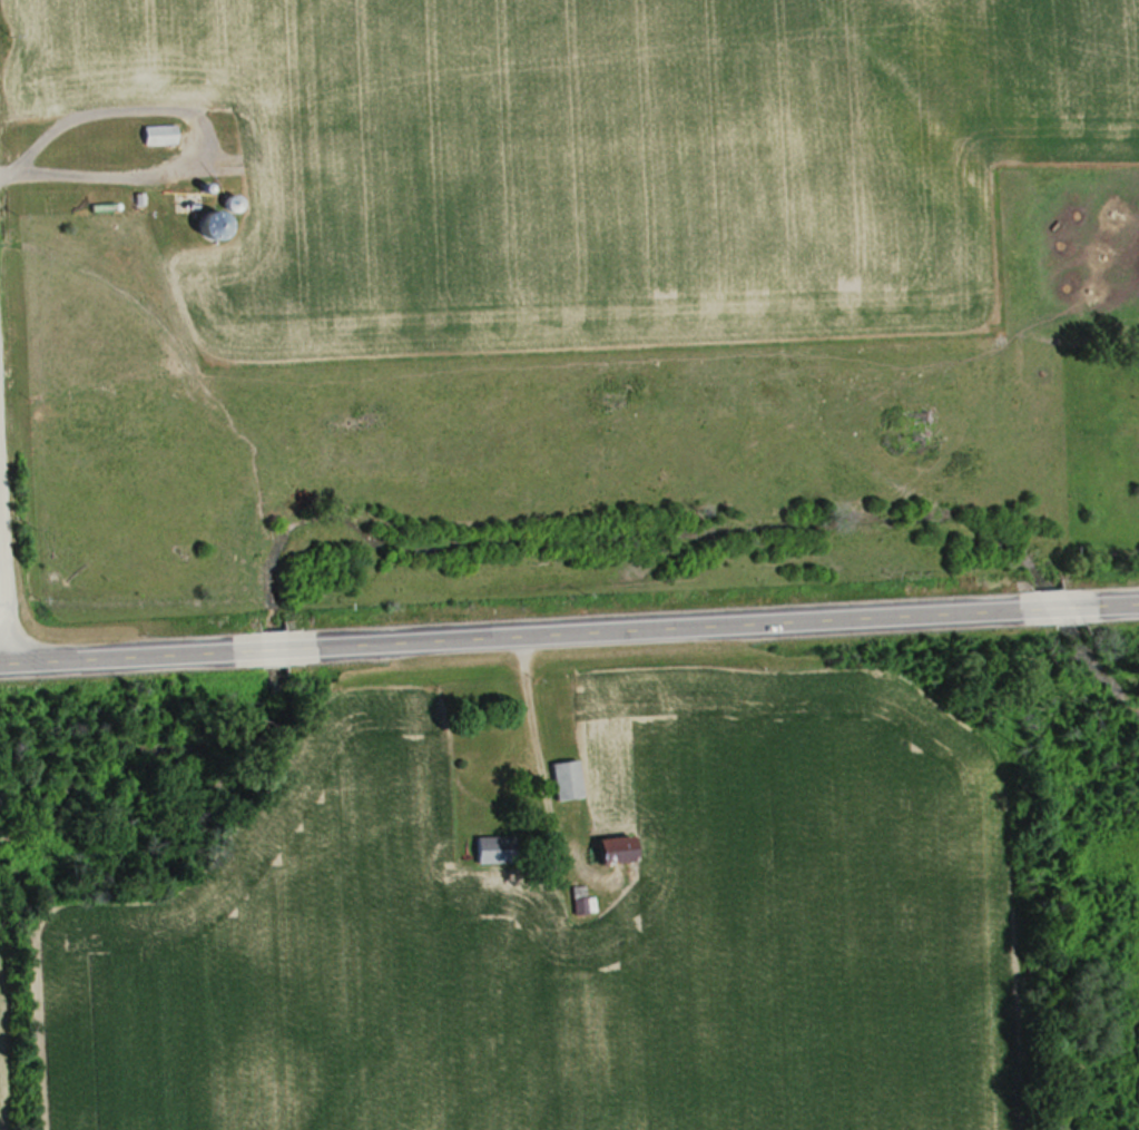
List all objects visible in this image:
building: (49, 324)
building: (82, 372)
road: (1116, 603)
road: (1052, 607)
road: (662, 626)
road: (0, 645)
road: (268, 647)
road: (111, 654)
building: (566, 779)
building: (617, 849)
building: (578, 898)

